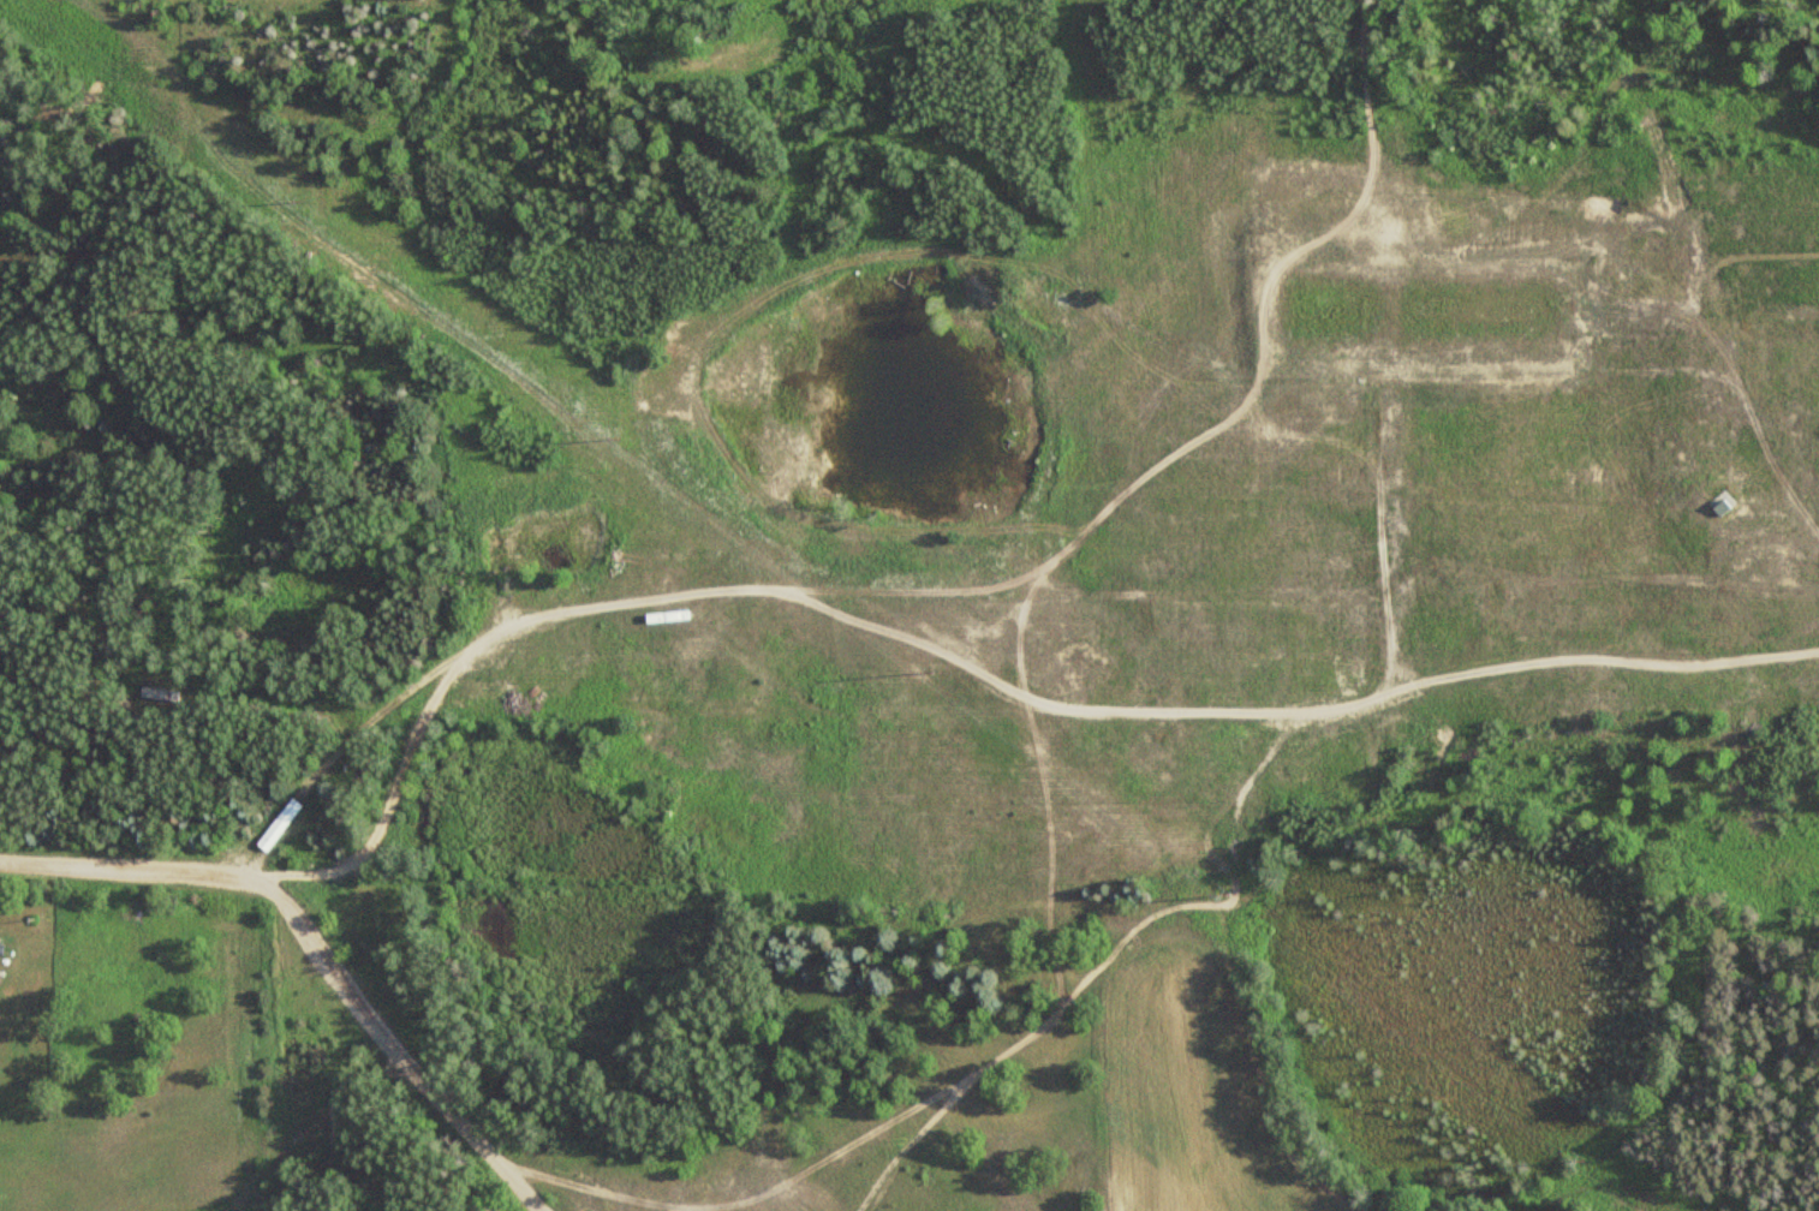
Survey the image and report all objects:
road: (1386, 345)
road: (1153, 401)
road: (781, 592)
road: (1127, 592)
road: (129, 871)
road: (405, 1044)

